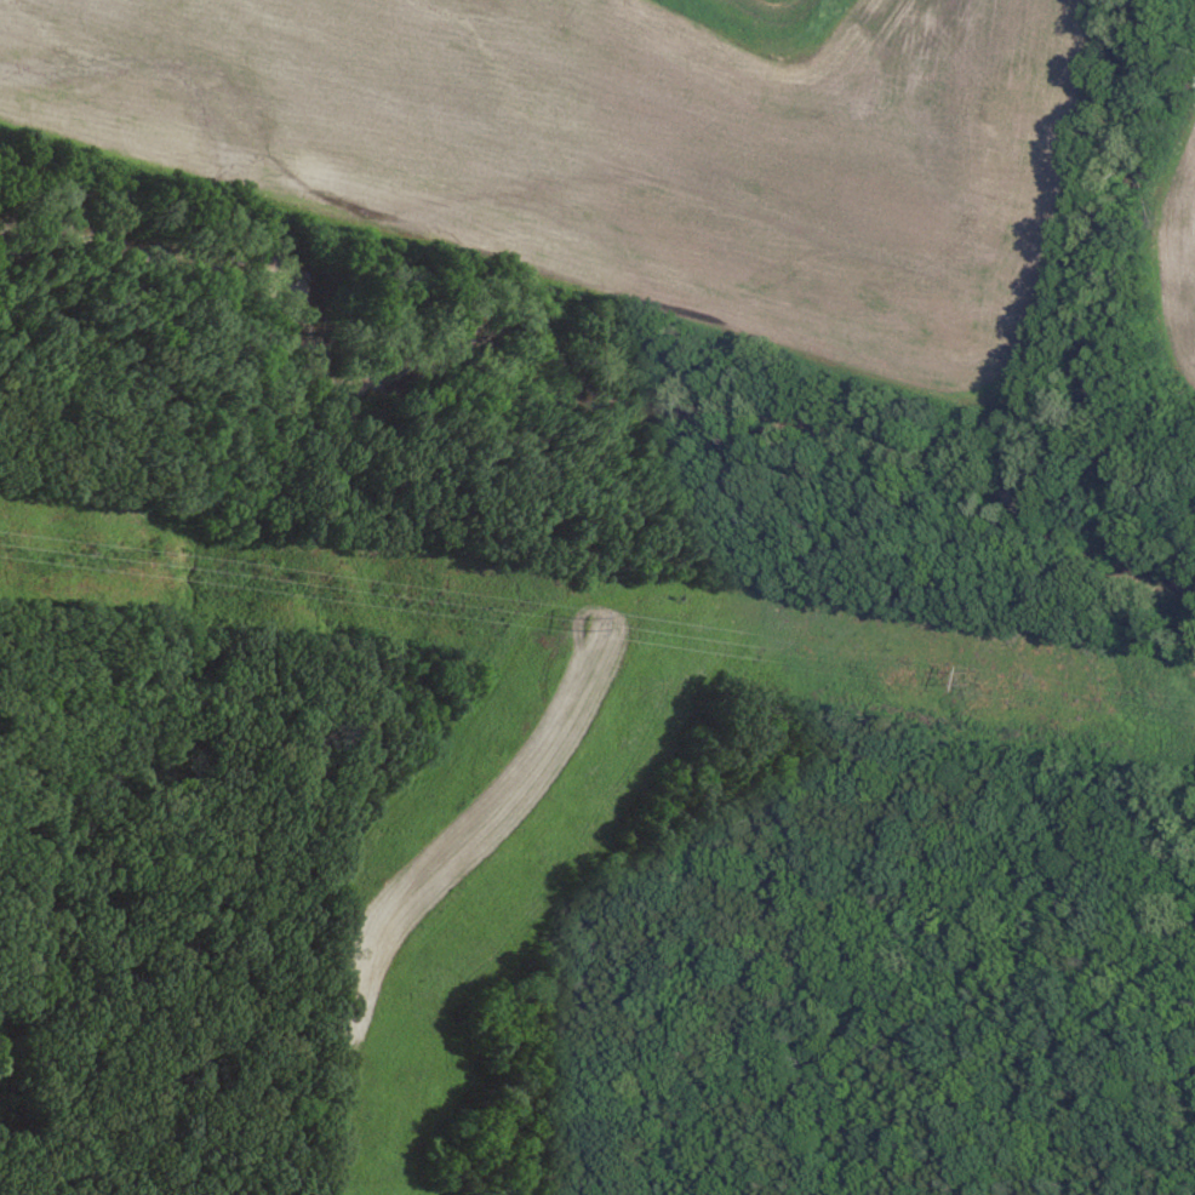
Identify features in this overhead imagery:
power tower: (577, 619)
power tower: (967, 669)

